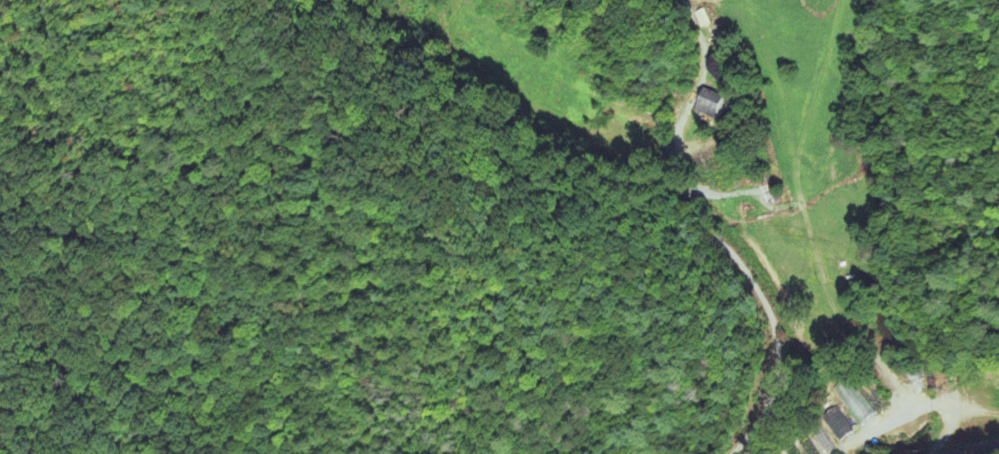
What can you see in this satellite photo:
building: (714, 105)
road: (754, 289)
building: (838, 425)
road: (982, 450)

